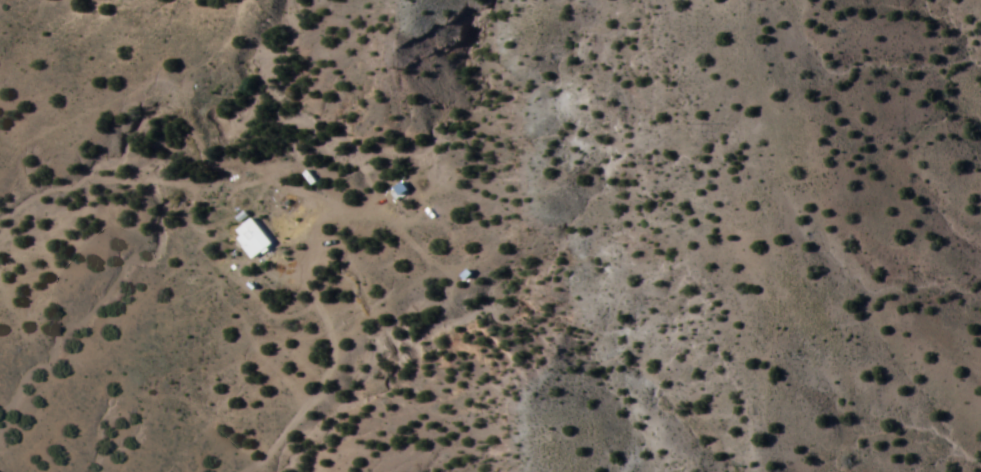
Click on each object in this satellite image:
building: (250, 240)

